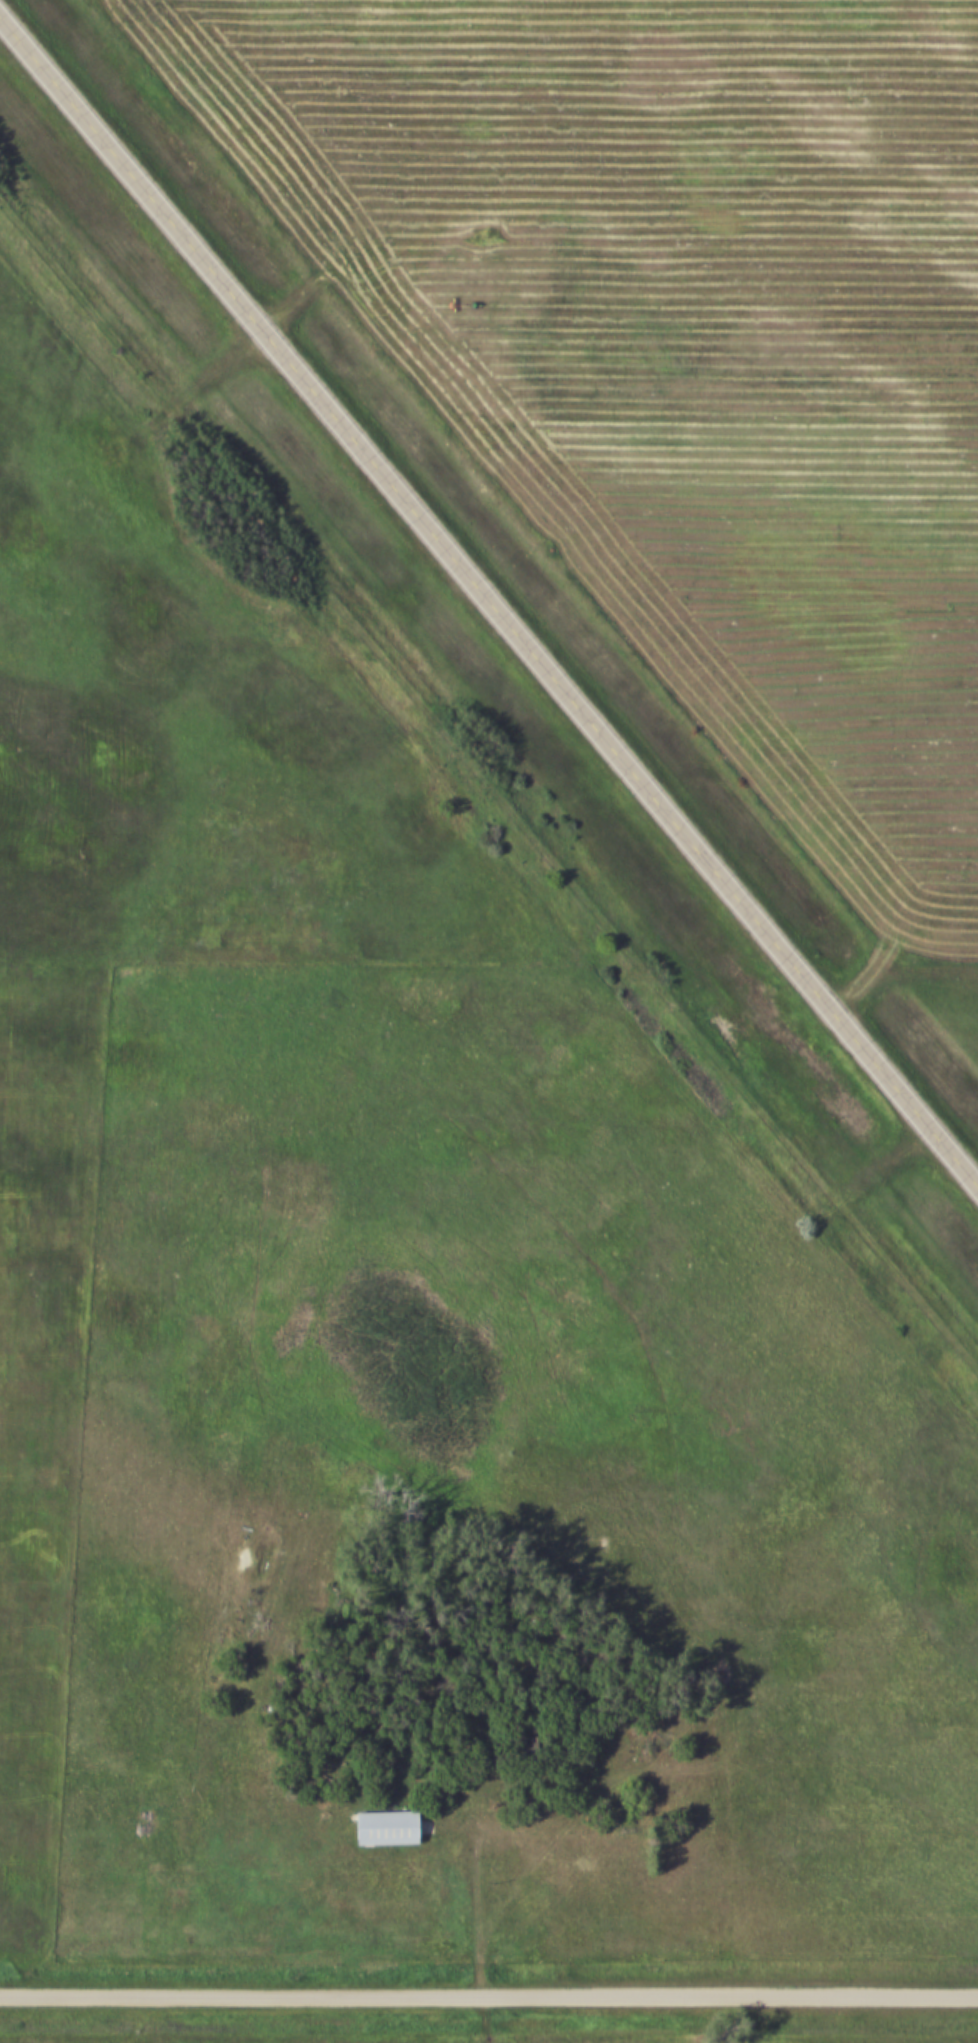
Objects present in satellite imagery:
road: (195, 388)
road: (489, 596)
road: (898, 963)
building: (385, 1829)
road: (477, 1895)
road: (489, 1994)

